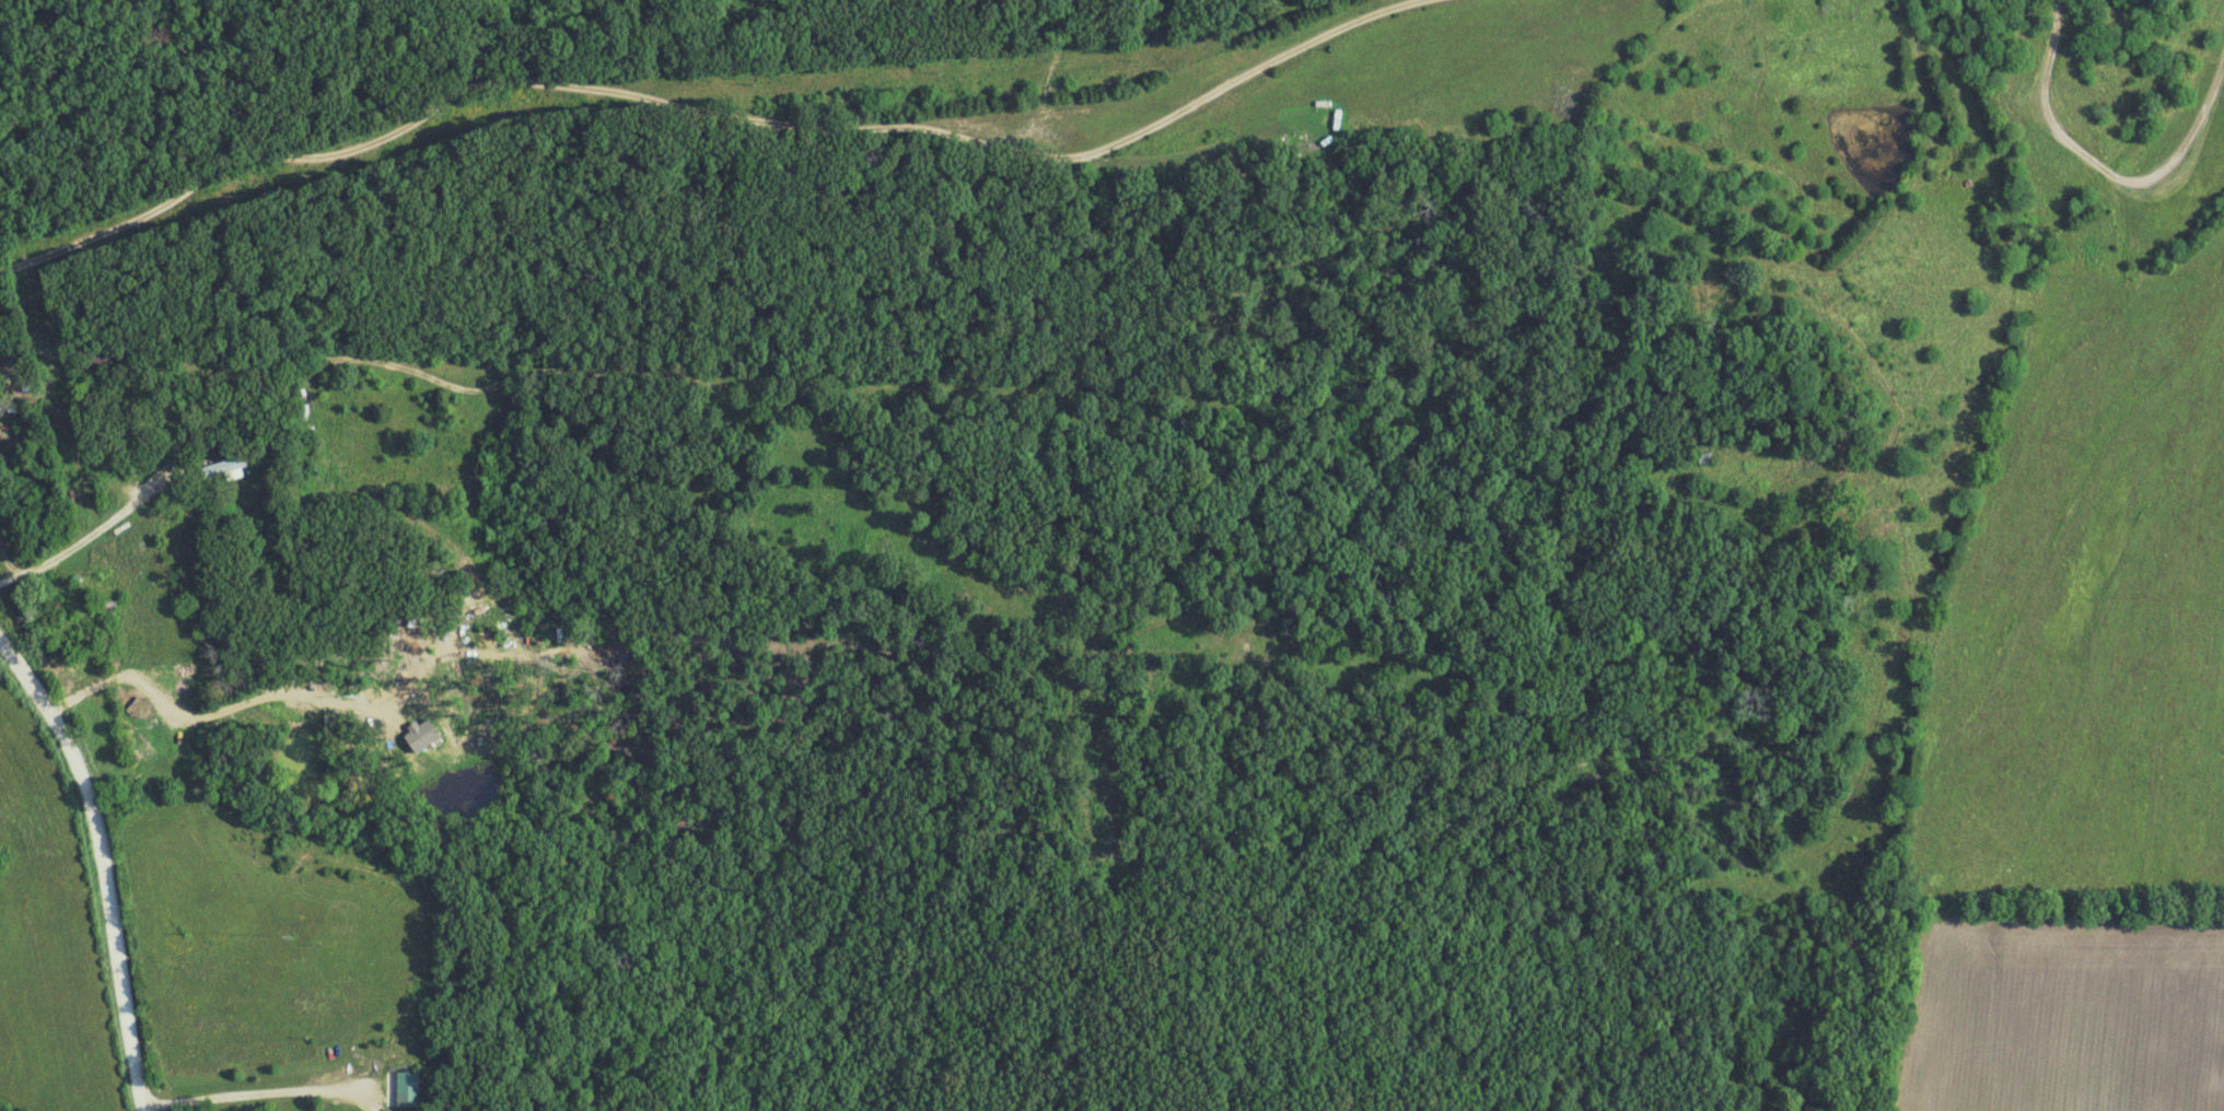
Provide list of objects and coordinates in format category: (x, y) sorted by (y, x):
building: (1995, 4)
road: (729, 126)
building: (85, 365)
building: (219, 469)
building: (106, 606)
road: (100, 864)
road: (257, 1085)
building: (406, 1089)

